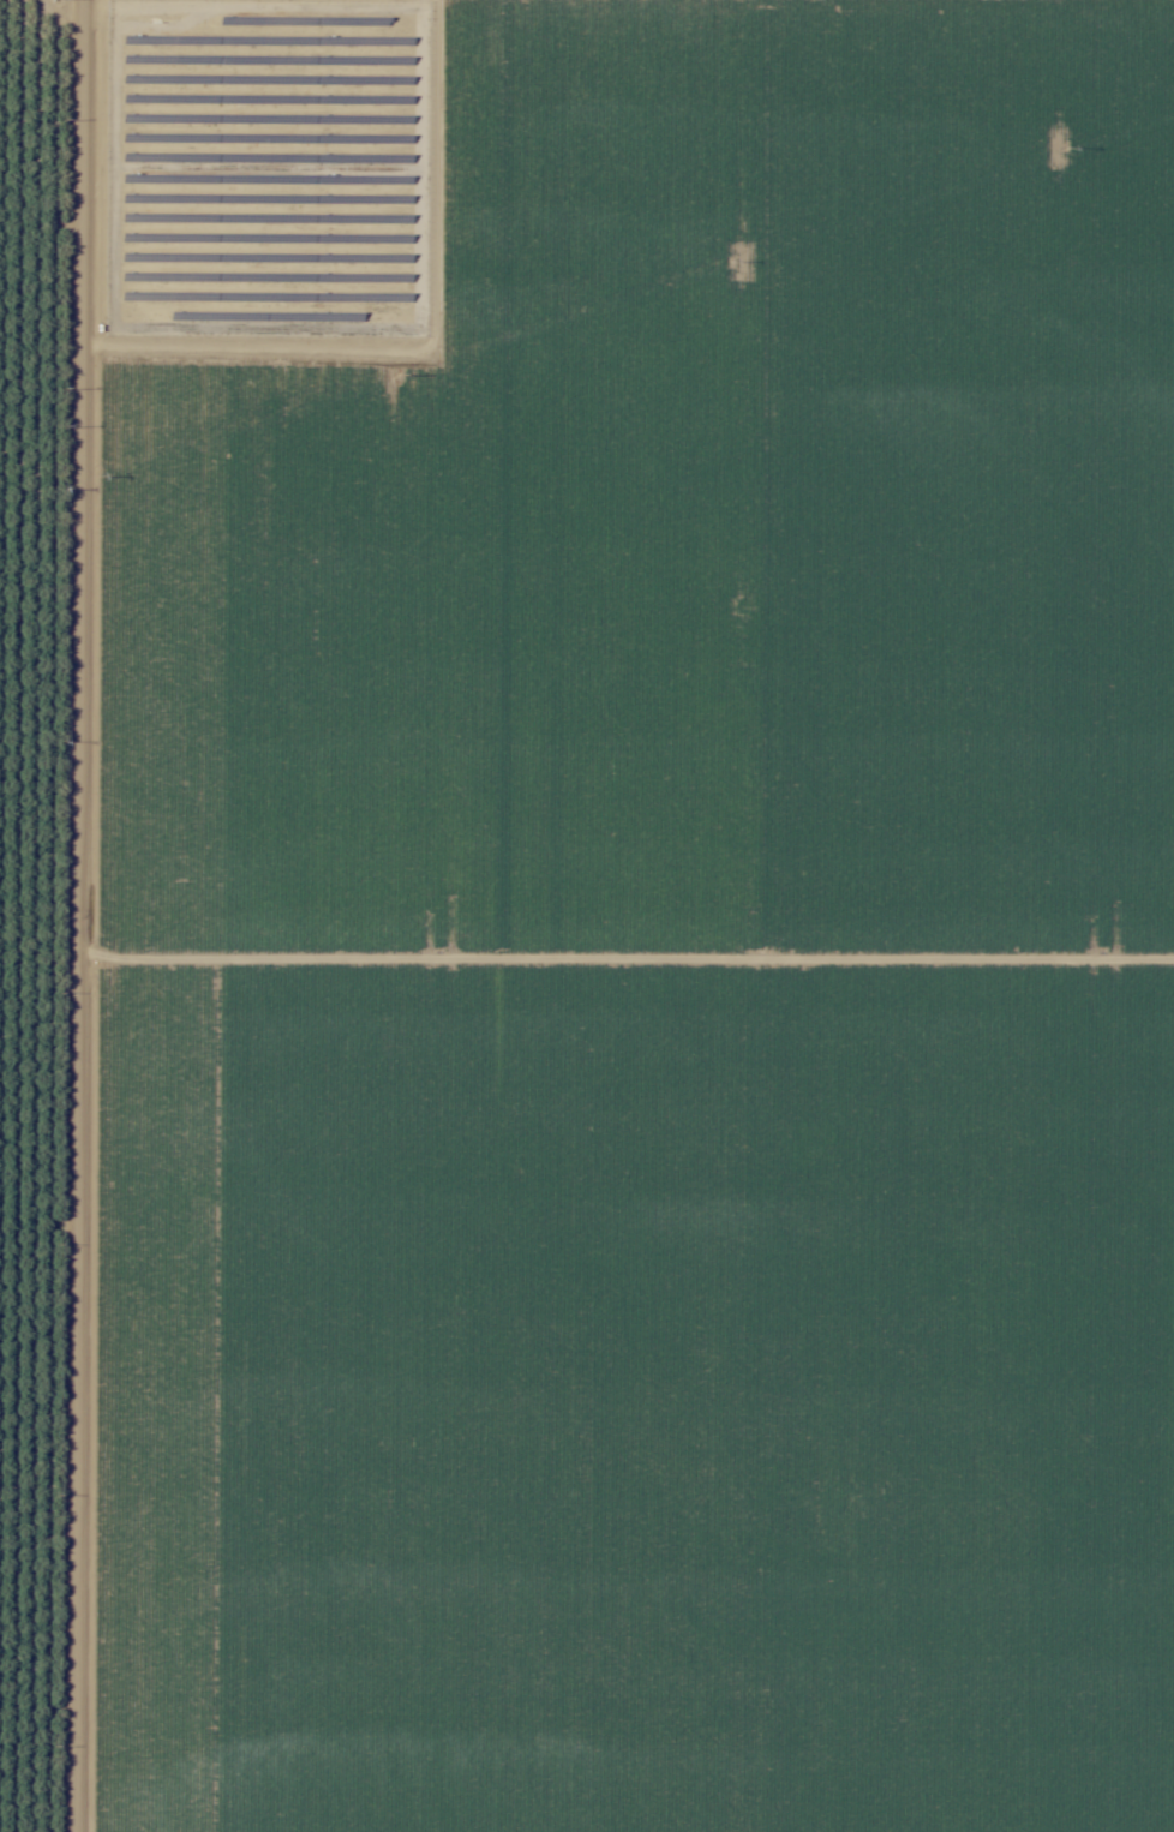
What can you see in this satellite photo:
crop: (48, 908)
road: (67, 916)
crop: (635, 916)

